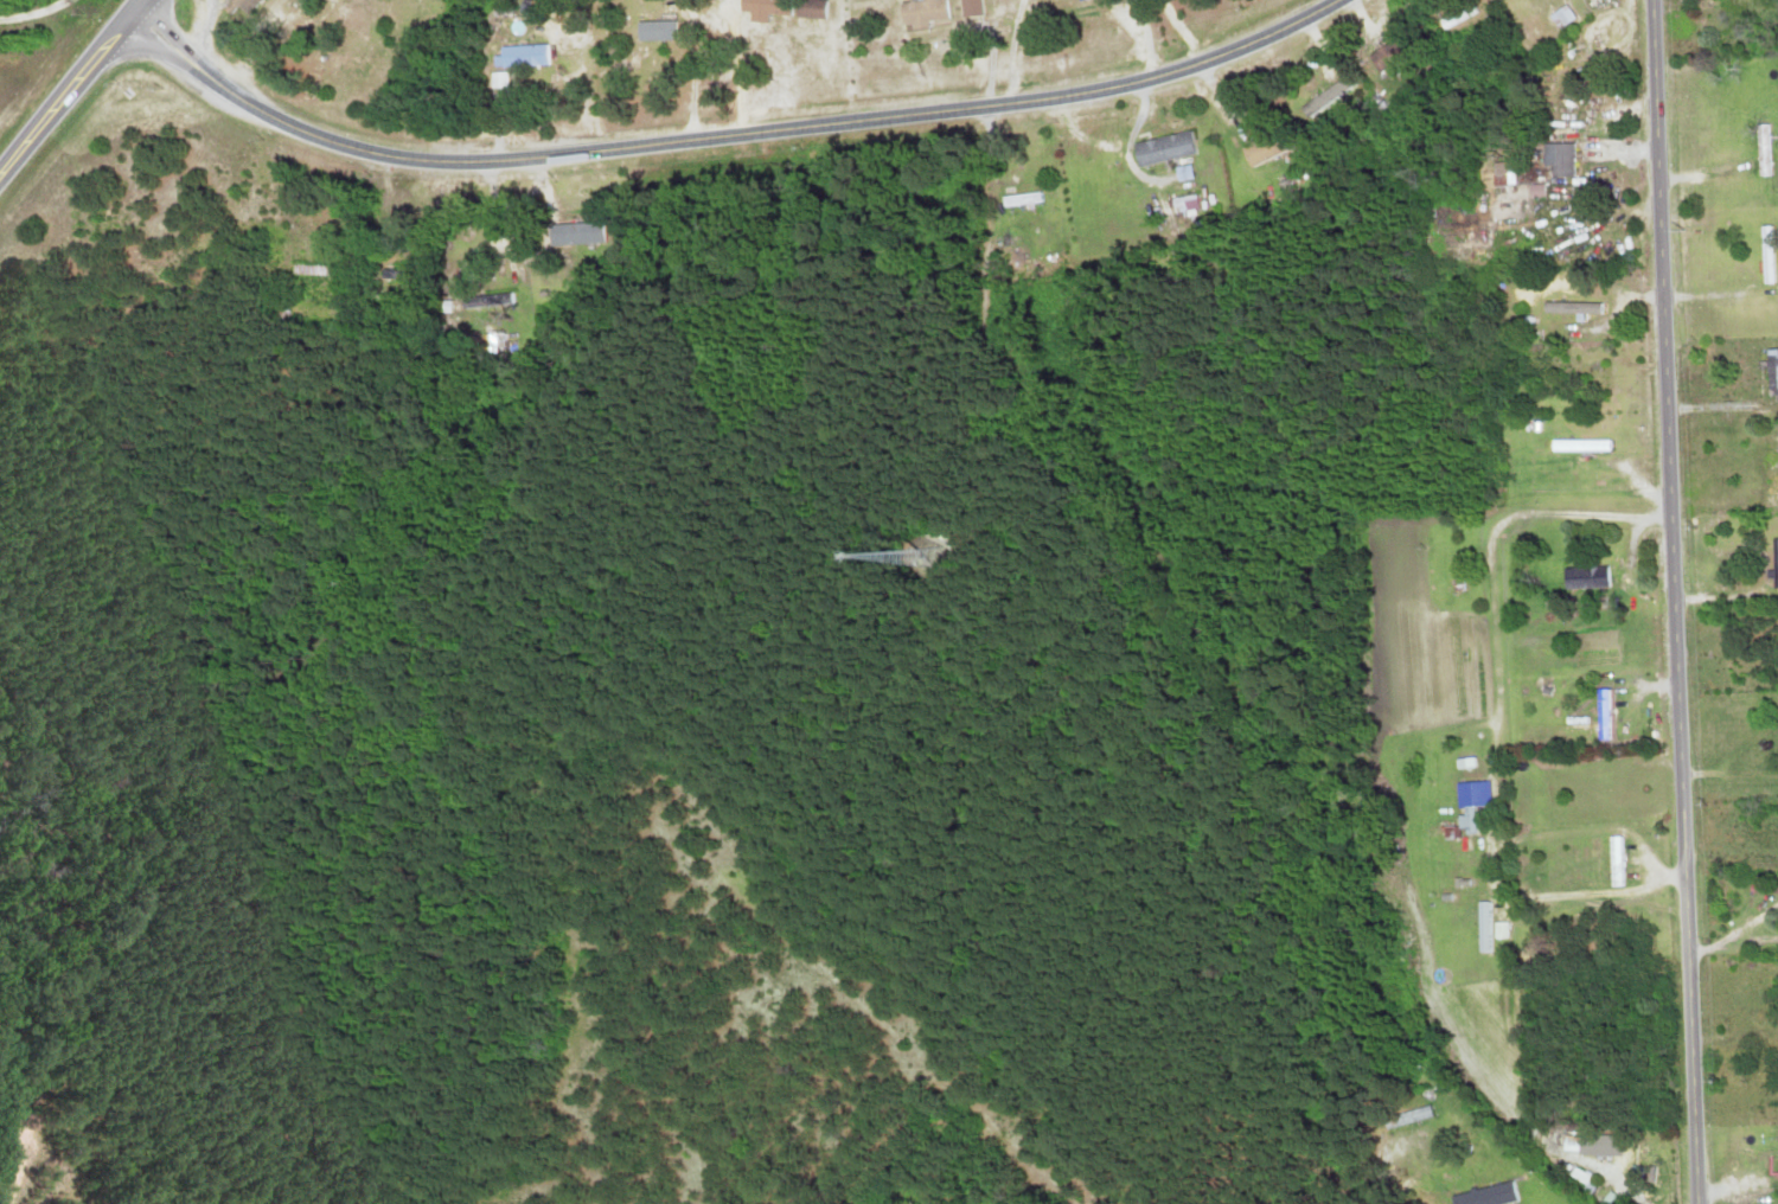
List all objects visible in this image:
building: (781, 8)
road: (31, 11)
building: (921, 12)
building: (1560, 17)
building: (654, 31)
building: (1390, 53)
building: (523, 56)
building: (498, 79)
road: (72, 87)
building: (1329, 97)
road: (722, 135)
building: (1267, 143)
building: (1165, 148)
building: (1763, 149)
building: (1561, 160)
building: (1022, 199)
building: (567, 235)
building: (1031, 242)
building: (1766, 255)
building: (312, 270)
building: (397, 276)
building: (1574, 308)
building: (1771, 372)
building: (1580, 446)
building: (1773, 478)
road: (1495, 538)
building: (1774, 563)
building: (1586, 577)
road: (1676, 601)
building: (1472, 801)
building: (1614, 862)
building: (1766, 889)
building: (1484, 927)
building: (1407, 1117)
building: (1598, 1146)
building: (1578, 1176)
building: (1489, 1196)

